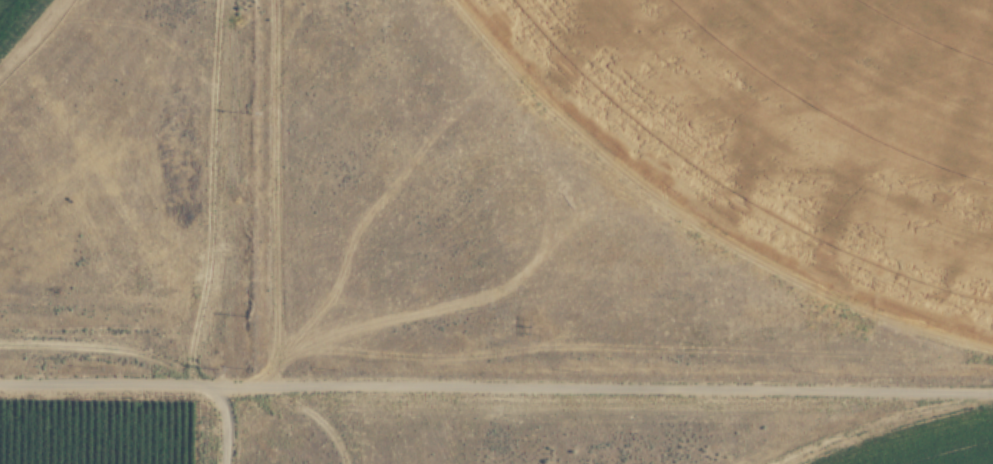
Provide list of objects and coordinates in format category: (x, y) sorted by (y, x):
crop: (45, 55)
crop: (816, 125)

